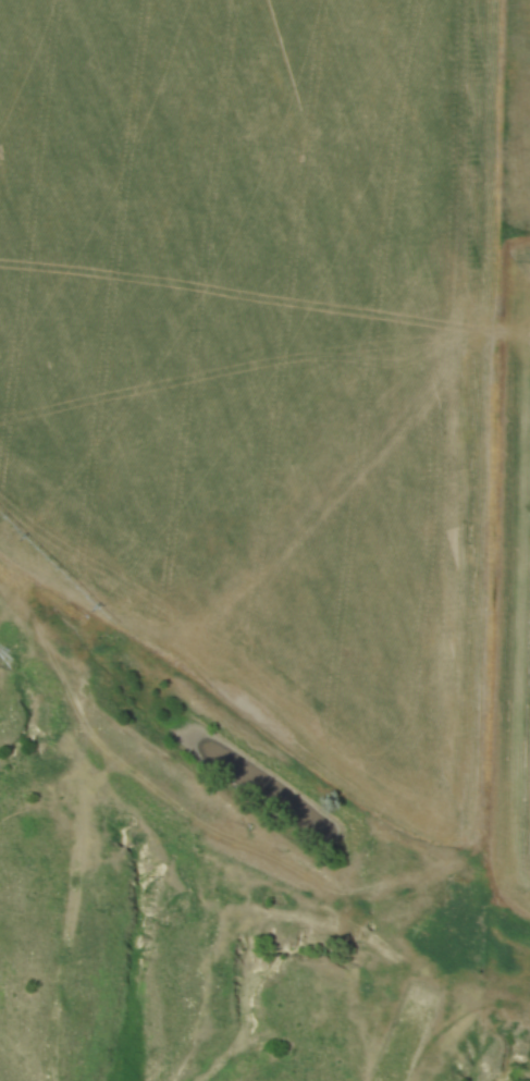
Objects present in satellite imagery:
crop: (260, 354)

